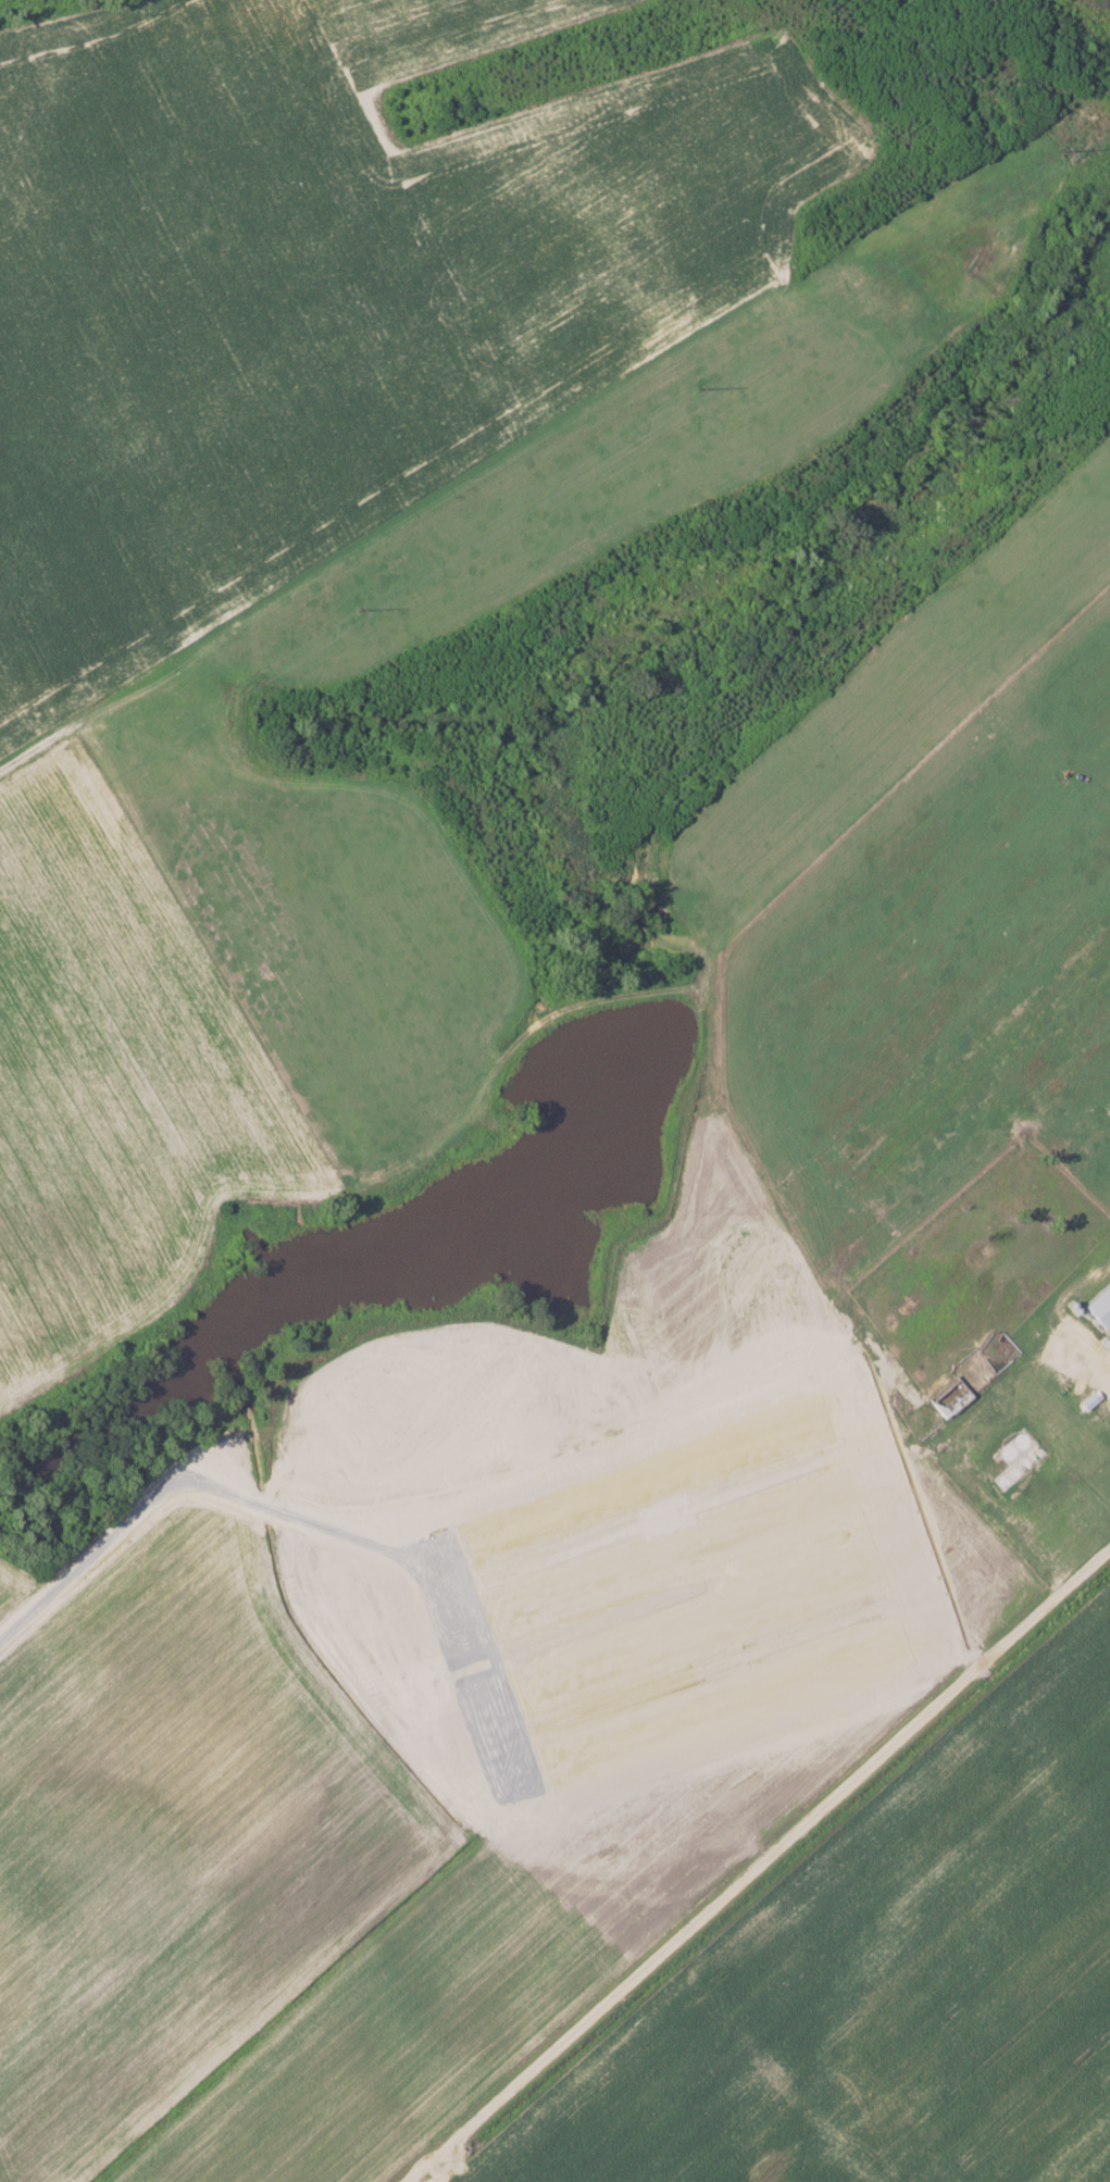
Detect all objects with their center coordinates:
power tower: (1061, 153)
power tower: (697, 389)
power tower: (357, 610)
building: (1101, 1308)

